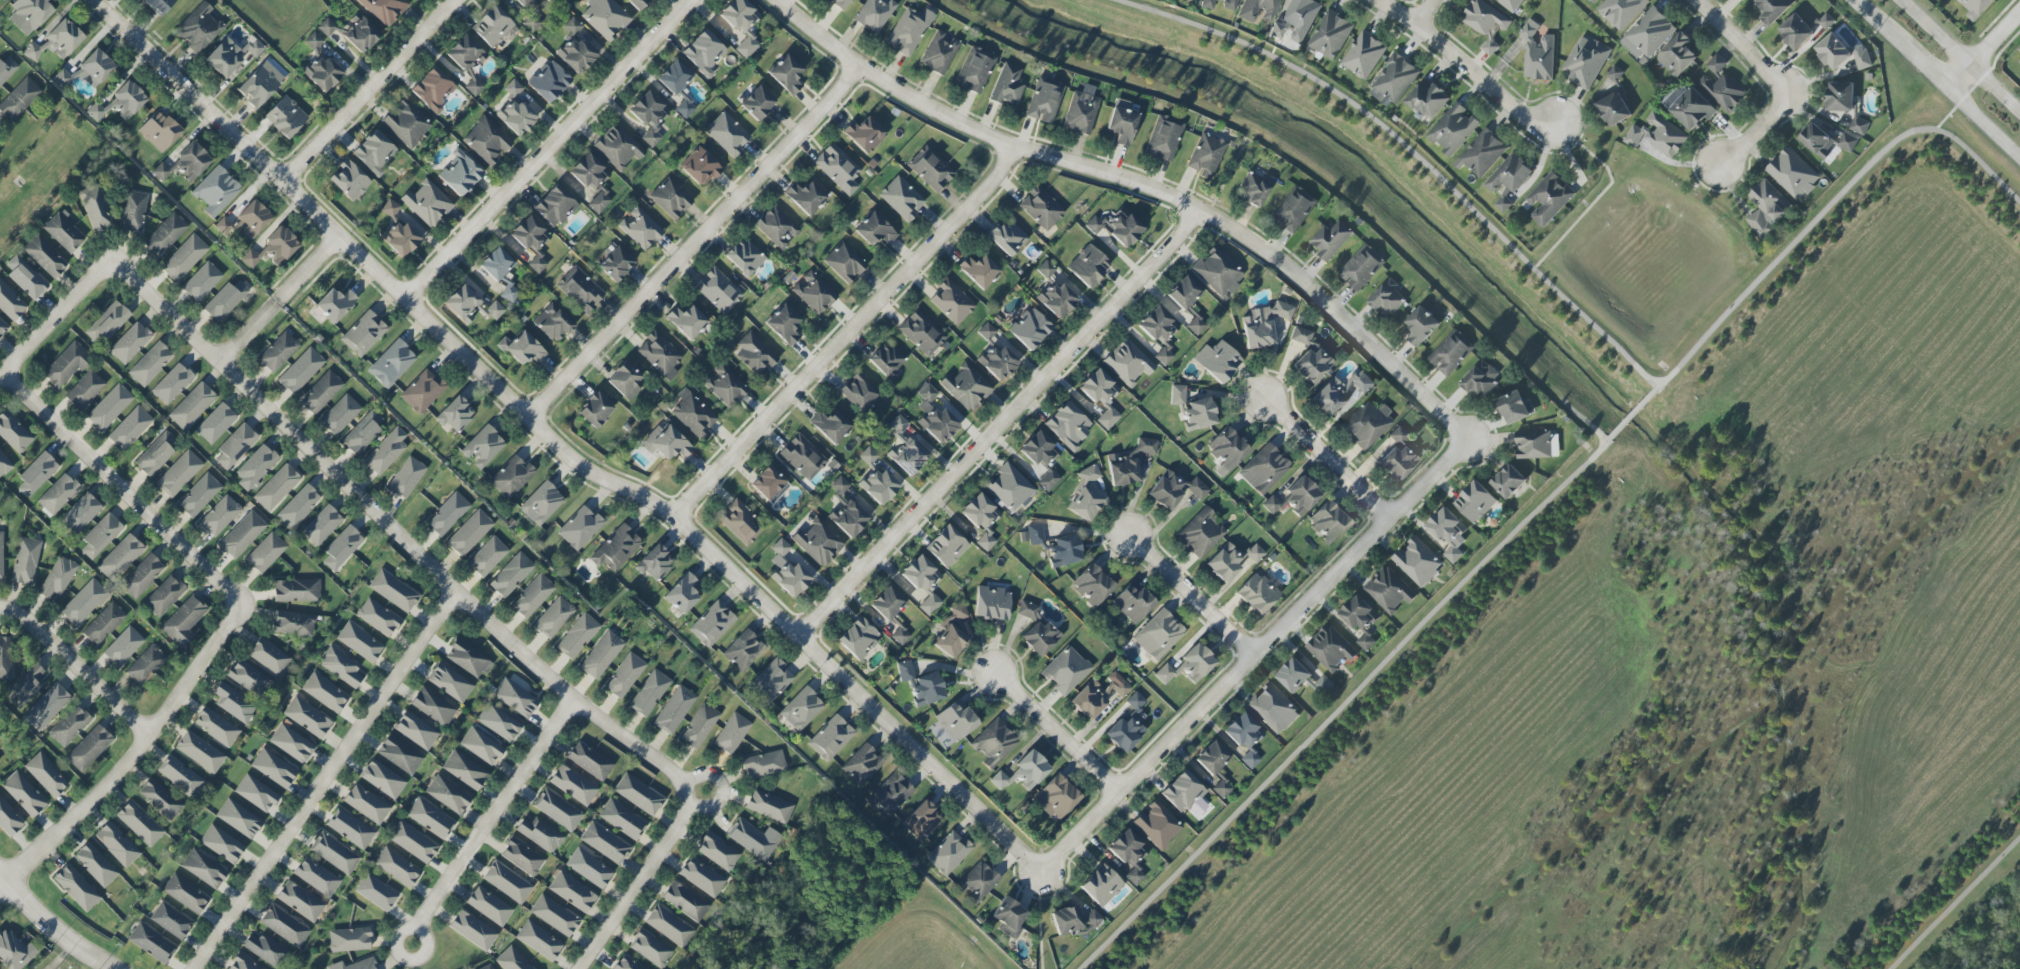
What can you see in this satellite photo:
building: (3, 0)
building: (1741, 0)
building: (1593, 1)
building: (522, 2)
building: (637, 3)
building: (840, 3)
building: (1208, 4)
building: (1510, 4)
building: (1230, 5)
building: (158, 6)
building: (1976, 8)
building: (385, 9)
building: (1773, 9)
building: (1258, 10)
building: (1621, 11)
road: (1423, 12)
building: (29, 14)
building: (874, 14)
building: (605, 17)
building: (1827, 20)
building: (1297, 21)
building: (1485, 22)
road: (1882, 23)
building: (742, 25)
building: (492, 26)
building: (326, 27)
building: (198, 30)
building: (908, 31)
building: (1795, 32)
building: (360, 34)
building: (1647, 34)
building: (1330, 35)
building: (58, 41)
building: (313, 41)
building: (574, 48)
road: (1985, 49)
building: (2019, 50)
building: (1833, 52)
building: (703, 53)
building: (938, 53)
building: (231, 55)
building: (1364, 55)
building: (1538, 55)
building: (1677, 55)
building: (463, 56)
road: (1960, 56)
building: (1862, 60)
building: (1585, 62)
building: (2019, 62)
road: (1464, 67)
road: (1928, 67)
building: (6, 69)
building: (974, 70)
building: (86, 71)
building: (322, 73)
building: (786, 74)
building: (674, 78)
building: (1393, 81)
building: (549, 82)
building: (260, 84)
building: (1720, 84)
road: (1785, 84)
building: (1008, 86)
building: (473, 87)
road: (365, 89)
building: (433, 89)
building: (1840, 97)
building: (19, 98)
building: (1427, 99)
building: (1045, 100)
building: (120, 103)
building: (757, 103)
building: (685, 109)
building: (1613, 109)
building: (516, 110)
building: (1692, 110)
building: (1080, 113)
building: (285, 117)
building: (649, 117)
road: (1985, 121)
building: (1122, 122)
building: (406, 123)
building: (1858, 126)
building: (1452, 129)
building: (159, 131)
building: (727, 134)
building: (864, 135)
building: (1657, 135)
building: (1163, 138)
building: (487, 140)
building: (1825, 141)
building: (617, 147)
road: (547, 150)
building: (375, 152)
building: (1482, 154)
building: (1205, 155)
building: (190, 159)
building: (700, 167)
building: (838, 169)
building: (930, 169)
building: (161, 172)
building: (589, 172)
building: (459, 174)
building: (1792, 174)
building: (1509, 175)
building: (349, 180)
building: (1254, 188)
building: (216, 191)
road: (1140, 192)
building: (806, 195)
road: (1598, 195)
building: (671, 198)
building: (901, 198)
building: (1549, 199)
building: (599, 202)
building: (427, 203)
building: (1504, 204)
building: (555, 206)
building: (95, 208)
building: (1041, 208)
building: (1766, 208)
building: (391, 209)
building: (1294, 209)
building: (133, 213)
building: (253, 221)
building: (223, 226)
building: (777, 227)
building: (640, 228)
building: (1116, 228)
building: (875, 230)
building: (63, 232)
building: (166, 234)
building: (526, 236)
building: (1007, 238)
building: (400, 239)
building: (1330, 239)
road: (694, 243)
building: (273, 248)
building: (45, 256)
building: (744, 257)
building: (184, 258)
building: (845, 262)
building: (496, 264)
building: (537, 264)
building: (615, 264)
building: (1088, 265)
building: (1361, 268)
building: (1046, 269)
building: (979, 271)
building: (1218, 272)
building: (26, 278)
building: (202, 282)
building: (580, 290)
building: (718, 290)
building: (510, 293)
building: (813, 293)
building: (1183, 293)
road: (279, 299)
building: (1056, 300)
building: (225, 301)
building: (1386, 301)
building: (951, 302)
building: (10, 303)
building: (335, 304)
building: (470, 306)
road: (54, 316)
building: (686, 321)
building: (785, 322)
building: (108, 323)
building: (554, 323)
road: (1592, 323)
building: (1263, 324)
building: (1158, 325)
building: (1196, 326)
building: (1421, 326)
building: (2, 327)
building: (1029, 328)
building: (986, 331)
building: (921, 333)
building: (363, 334)
road: (854, 337)
building: (130, 343)
building: (522, 348)
building: (278, 352)
building: (755, 353)
building: (1449, 354)
building: (659, 355)
building: (1164, 356)
building: (1310, 358)
building: (886, 359)
building: (1217, 361)
building: (997, 362)
building: (1128, 362)
building: (150, 364)
building: (391, 364)
building: (66, 365)
building: (301, 371)
building: (1480, 380)
building: (625, 381)
building: (172, 384)
building: (725, 385)
building: (966, 387)
building: (1098, 387)
road: (1656, 387)
building: (85, 390)
building: (422, 391)
building: (1339, 392)
building: (321, 393)
building: (860, 393)
building: (1178, 395)
building: (192, 406)
building: (109, 407)
building: (1515, 408)
building: (595, 410)
building: (455, 414)
building: (693, 414)
building: (1198, 414)
road: (1632, 414)
building: (340, 415)
building: (935, 416)
building: (1108, 418)
building: (215, 423)
building: (1367, 424)
building: (830, 425)
road: (1000, 426)
building: (1068, 426)
building: (130, 428)
building: (14, 433)
building: (362, 433)
building: (1397, 436)
road: (1606, 440)
road: (564, 442)
building: (666, 443)
building: (236, 445)
building: (1537, 445)
building: (483, 447)
building: (905, 448)
building: (1227, 448)
building: (1039, 449)
building: (386, 451)
building: (155, 454)
building: (868, 456)
building: (802, 457)
road: (1327, 459)
building: (4, 464)
building: (1128, 464)
building: (256, 467)
building: (1264, 469)
building: (37, 474)
building: (179, 474)
building: (1089, 474)
building: (406, 477)
building: (511, 477)
building: (1048, 481)
building: (1507, 481)
building: (769, 485)
building: (879, 486)
building: (1010, 487)
road: (122, 488)
building: (277, 488)
building: (1175, 491)
building: (58, 494)
building: (199, 495)
building: (1294, 498)
building: (1474, 502)
building: (541, 503)
building: (1085, 504)
building: (298, 507)
building: (845, 510)
building: (80, 513)
building: (448, 514)
building: (219, 516)
building: (981, 518)
building: (740, 522)
building: (1328, 522)
building: (321, 525)
building: (579, 528)
road: (395, 531)
building: (469, 533)
building: (1448, 533)
building: (1032, 534)
building: (1200, 534)
building: (242, 535)
building: (100, 536)
building: (818, 543)
building: (946, 546)
building: (341, 548)
building: (616, 548)
building: (780, 548)
building: (1064, 551)
building: (265, 553)
building: (1254, 553)
building: (1, 555)
building: (120, 557)
building: (487, 557)
building: (25, 561)
building: (1417, 561)
building: (655, 562)
building: (1225, 562)
building: (920, 573)
building: (511, 575)
building: (142, 576)
building: (58, 577)
building: (790, 578)
building: (1092, 585)
building: (296, 590)
building: (1389, 590)
building: (393, 591)
building: (1257, 593)
building: (682, 594)
road: (1192, 595)
building: (164, 596)
building: (532, 596)
building: (84, 603)
building: (887, 603)
building: (992, 603)
building: (1133, 603)
building: (930, 604)
building: (1028, 610)
building: (958, 611)
building: (1357, 613)
building: (378, 617)
building: (554, 617)
building: (184, 620)
building: (293, 623)
building: (103, 624)
building: (712, 624)
building: (950, 634)
building: (1158, 635)
building: (577, 636)
building: (900, 636)
building: (858, 638)
building: (1041, 638)
building: (360, 642)
building: (1365, 642)
building: (123, 646)
building: (1331, 648)
building: (744, 651)
building: (601, 655)
road: (1251, 656)
building: (269, 657)
building: (5, 658)
building: (467, 658)
building: (145, 665)
building: (341, 666)
building: (1187, 666)
road: (75, 667)
building: (1066, 670)
building: (1293, 675)
building: (624, 676)
building: (248, 678)
building: (771, 681)
building: (450, 682)
road: (1366, 683)
building: (921, 685)
building: (1324, 685)
building: (25, 688)
building: (325, 692)
building: (649, 693)
building: (515, 698)
building: (234, 704)
building: (433, 706)
building: (46, 707)
building: (1273, 708)
building: (801, 709)
building: (674, 710)
building: (307, 717)
building: (956, 720)
building: (499, 722)
building: (69, 726)
building: (699, 726)
building: (1127, 726)
building: (216, 727)
building: (416, 731)
building: (1243, 731)
road: (1057, 732)
building: (731, 733)
building: (831, 738)
building: (994, 742)
building: (291, 744)
building: (481, 746)
building: (89, 748)
building: (200, 752)
building: (399, 755)
building: (1212, 758)
road: (133, 759)
building: (1250, 759)
building: (589, 761)
building: (763, 765)
building: (862, 765)
building: (274, 768)
building: (464, 770)
building: (1023, 772)
building: (46, 775)
building: (180, 776)
road: (322, 778)
building: (382, 779)
building: (573, 785)
building: (1221, 788)
building: (1182, 792)
building: (256, 793)
building: (23, 794)
building: (638, 794)
building: (891, 794)
building: (448, 795)
building: (1056, 797)
building: (160, 799)
building: (366, 804)
building: (769, 806)
building: (557, 810)
road: (496, 813)
building: (430, 818)
building: (9, 819)
building: (239, 819)
building: (622, 819)
building: (924, 819)
building: (140, 823)
building: (1157, 825)
building: (350, 828)
building: (540, 834)
building: (753, 839)
building: (413, 842)
building: (605, 842)
building: (117, 844)
building: (221, 844)
building: (717, 852)
building: (334, 853)
building: (948, 853)
building: (1127, 853)
building: (522, 857)
building: (96, 865)
building: (396, 867)
building: (204, 868)
building: (589, 868)
building: (316, 877)
building: (701, 877)
road: (639, 879)
building: (507, 882)
building: (978, 882)
building: (1101, 885)
building: (76, 888)
building: (376, 892)
building: (572, 892)
building: (185, 894)
building: (300, 901)
building: (685, 901)
road: (1954, 903)
building: (489, 906)
building: (555, 915)
building: (1008, 918)
building: (171, 920)
building: (1073, 920)
road: (1040, 925)
road: (52, 926)
building: (284, 926)
building: (669, 926)
building: (473, 930)
building: (349, 940)
building: (539, 940)
building: (151, 943)
building: (650, 949)
building: (267, 950)
building: (12, 951)
building: (512, 960)
building: (243, 963)
building: (627, 963)
building: (355, 965)
building: (488, 967)

